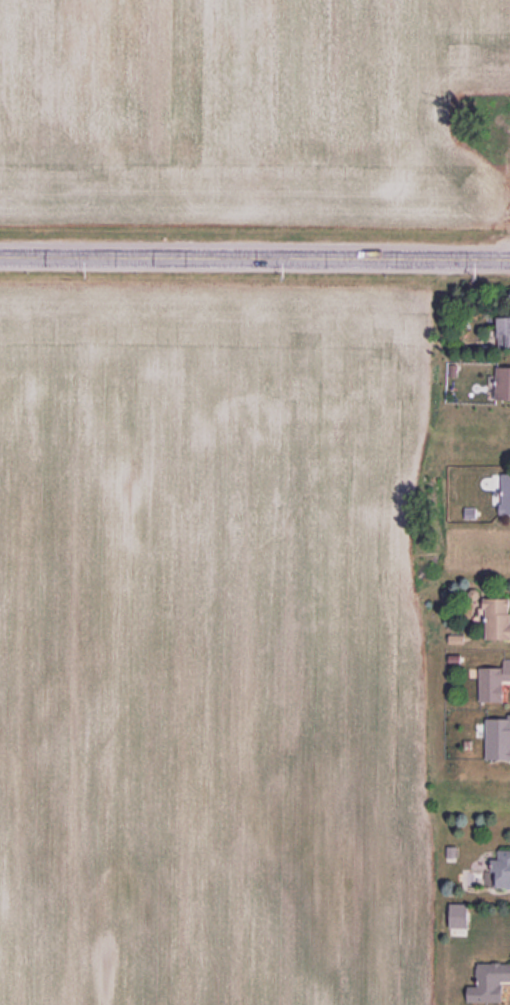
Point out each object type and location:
crop: (245, 112)
road: (39, 258)
road: (294, 259)
building: (504, 330)
building: (503, 383)
building: (505, 494)
building: (497, 618)
crop: (212, 644)
building: (493, 681)
building: (451, 851)
building: (502, 868)
building: (458, 915)
building: (489, 981)

